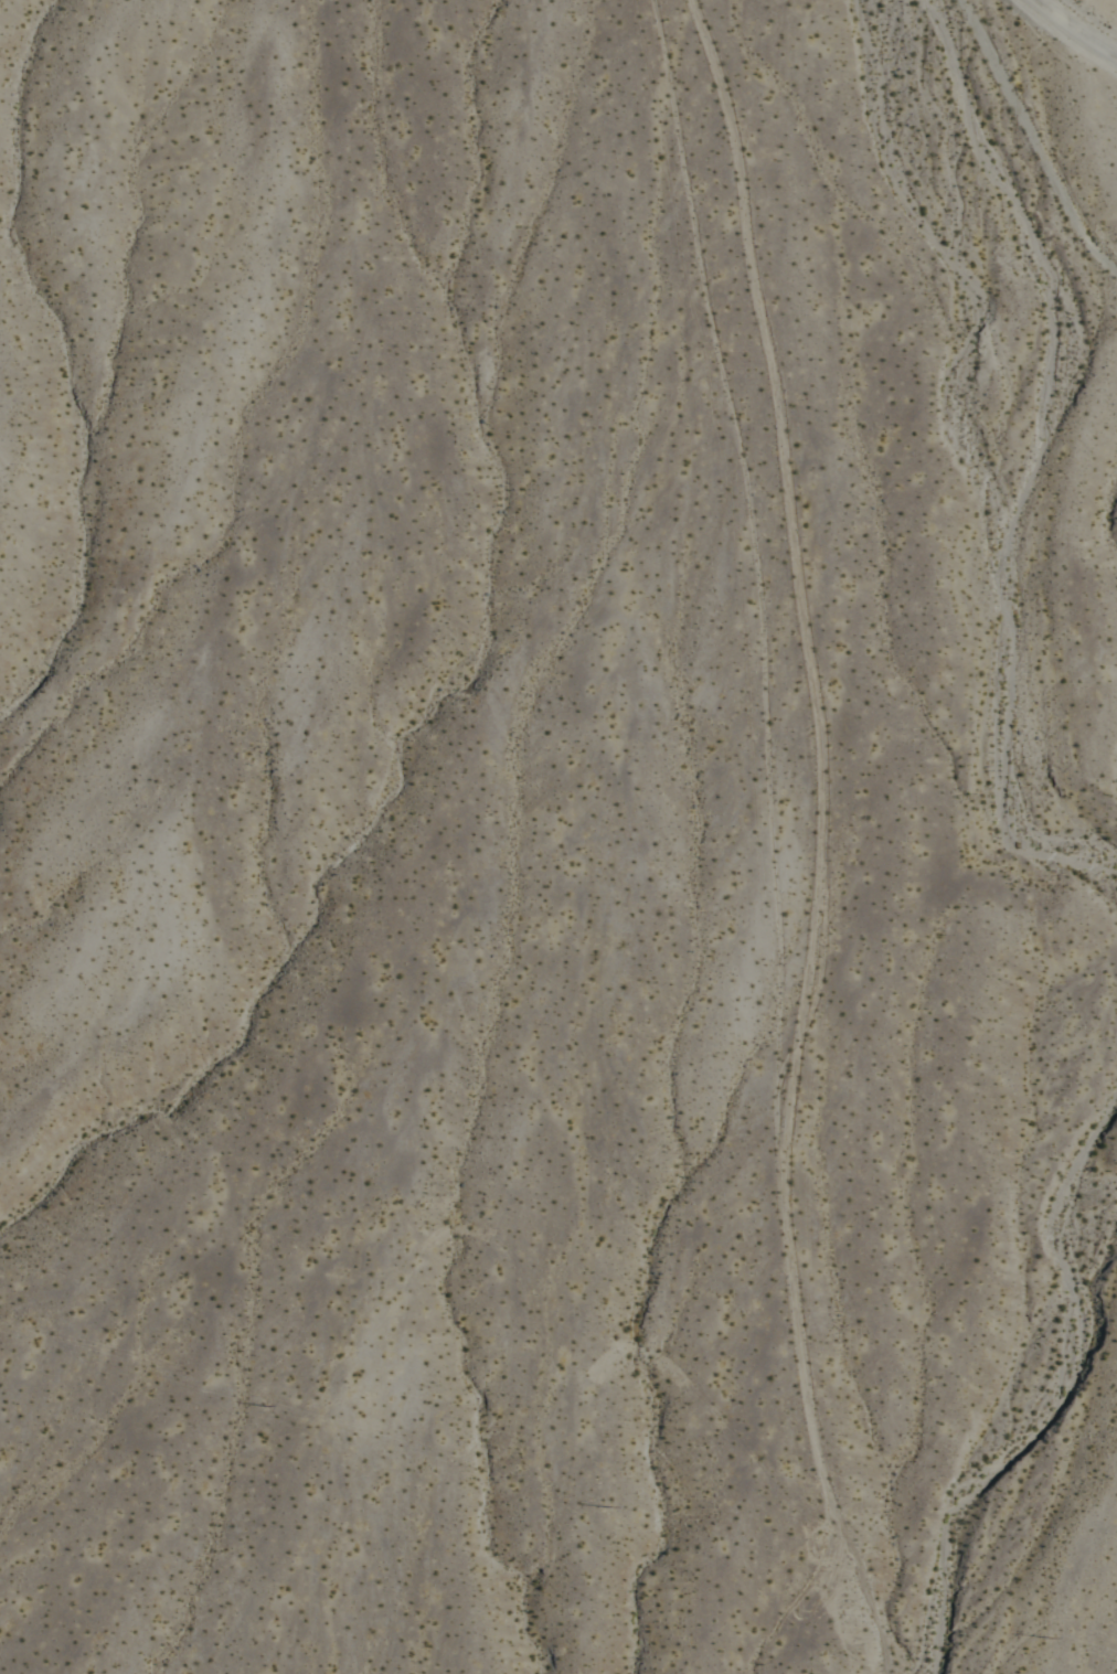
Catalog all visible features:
road: (1082, 22)

